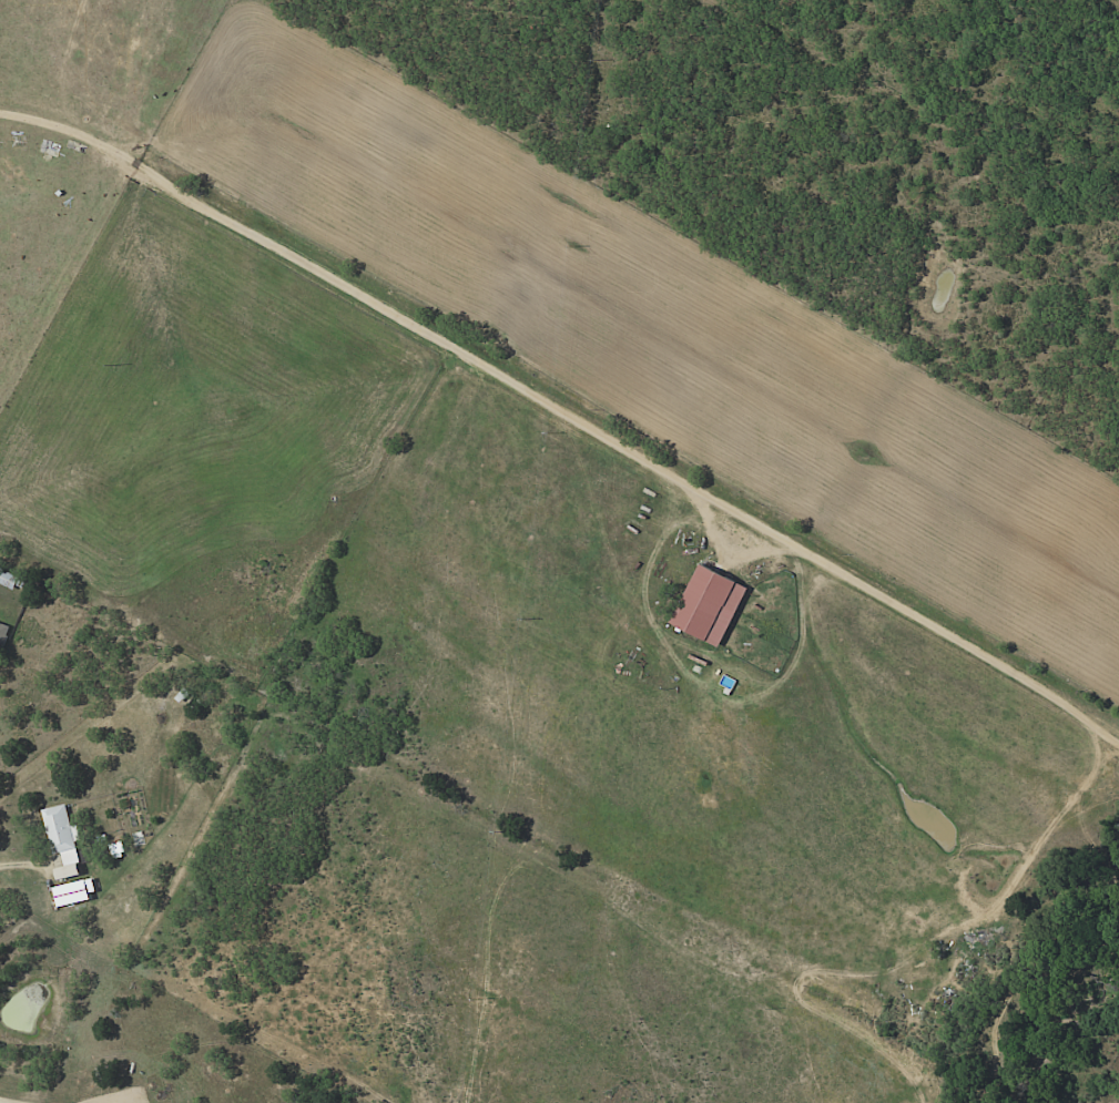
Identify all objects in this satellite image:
building: (52, 149)
road: (562, 457)
building: (8, 580)
building: (714, 605)
building: (4, 633)
building: (185, 697)
building: (63, 840)

